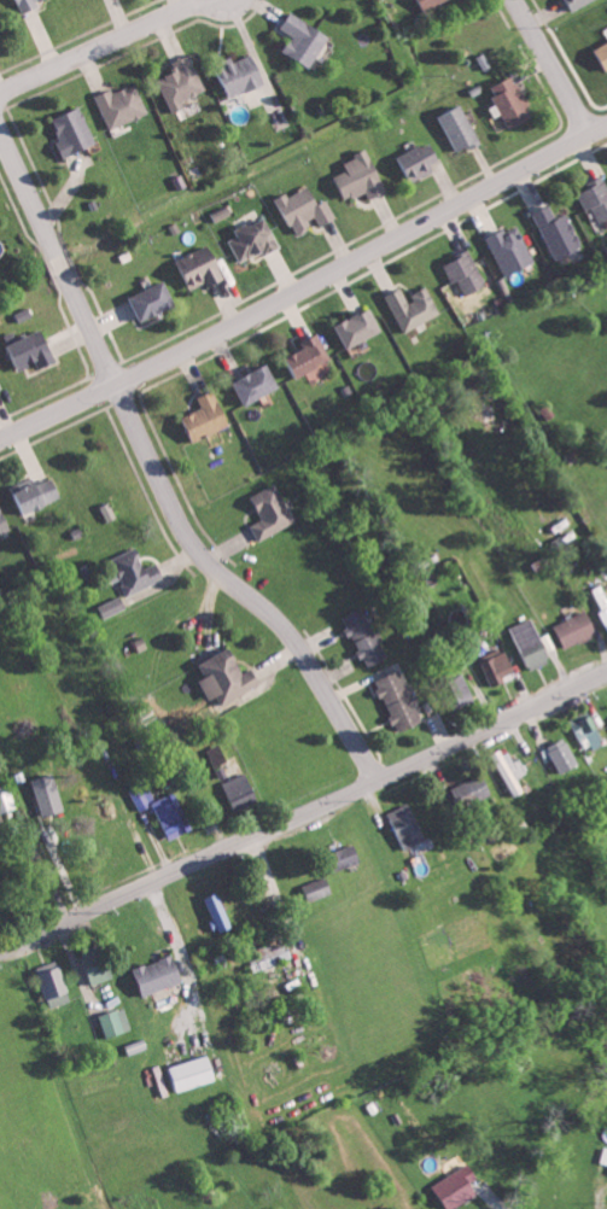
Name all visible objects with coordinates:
building: (432, 2)
building: (577, 2)
building: (29, 4)
building: (1, 13)
building: (305, 37)
road: (104, 52)
building: (602, 53)
road: (553, 68)
building: (244, 74)
building: (182, 82)
building: (512, 101)
building: (124, 104)
building: (461, 128)
building: (75, 130)
building: (419, 160)
building: (361, 176)
building: (596, 197)
building: (305, 209)
building: (559, 232)
building: (255, 239)
building: (512, 250)
building: (204, 267)
building: (466, 273)
road: (304, 286)
building: (156, 299)
building: (413, 306)
building: (361, 327)
building: (36, 349)
building: (309, 356)
building: (259, 384)
building: (1, 385)
building: (209, 416)
road: (154, 473)
building: (36, 493)
building: (109, 512)
building: (273, 512)
building: (4, 521)
building: (138, 571)
building: (601, 601)
building: (113, 606)
building: (576, 627)
building: (364, 637)
building: (531, 642)
building: (497, 666)
building: (228, 676)
building: (463, 693)
building: (399, 701)
building: (589, 732)
building: (216, 754)
building: (564, 755)
building: (513, 771)
building: (241, 790)
building: (473, 790)
building: (48, 794)
building: (7, 799)
building: (165, 811)
road: (304, 814)
building: (409, 825)
building: (350, 855)
building: (319, 888)
building: (221, 911)
building: (272, 954)
building: (98, 963)
building: (160, 974)
building: (54, 983)
building: (116, 1021)
building: (193, 1073)
building: (460, 1186)

